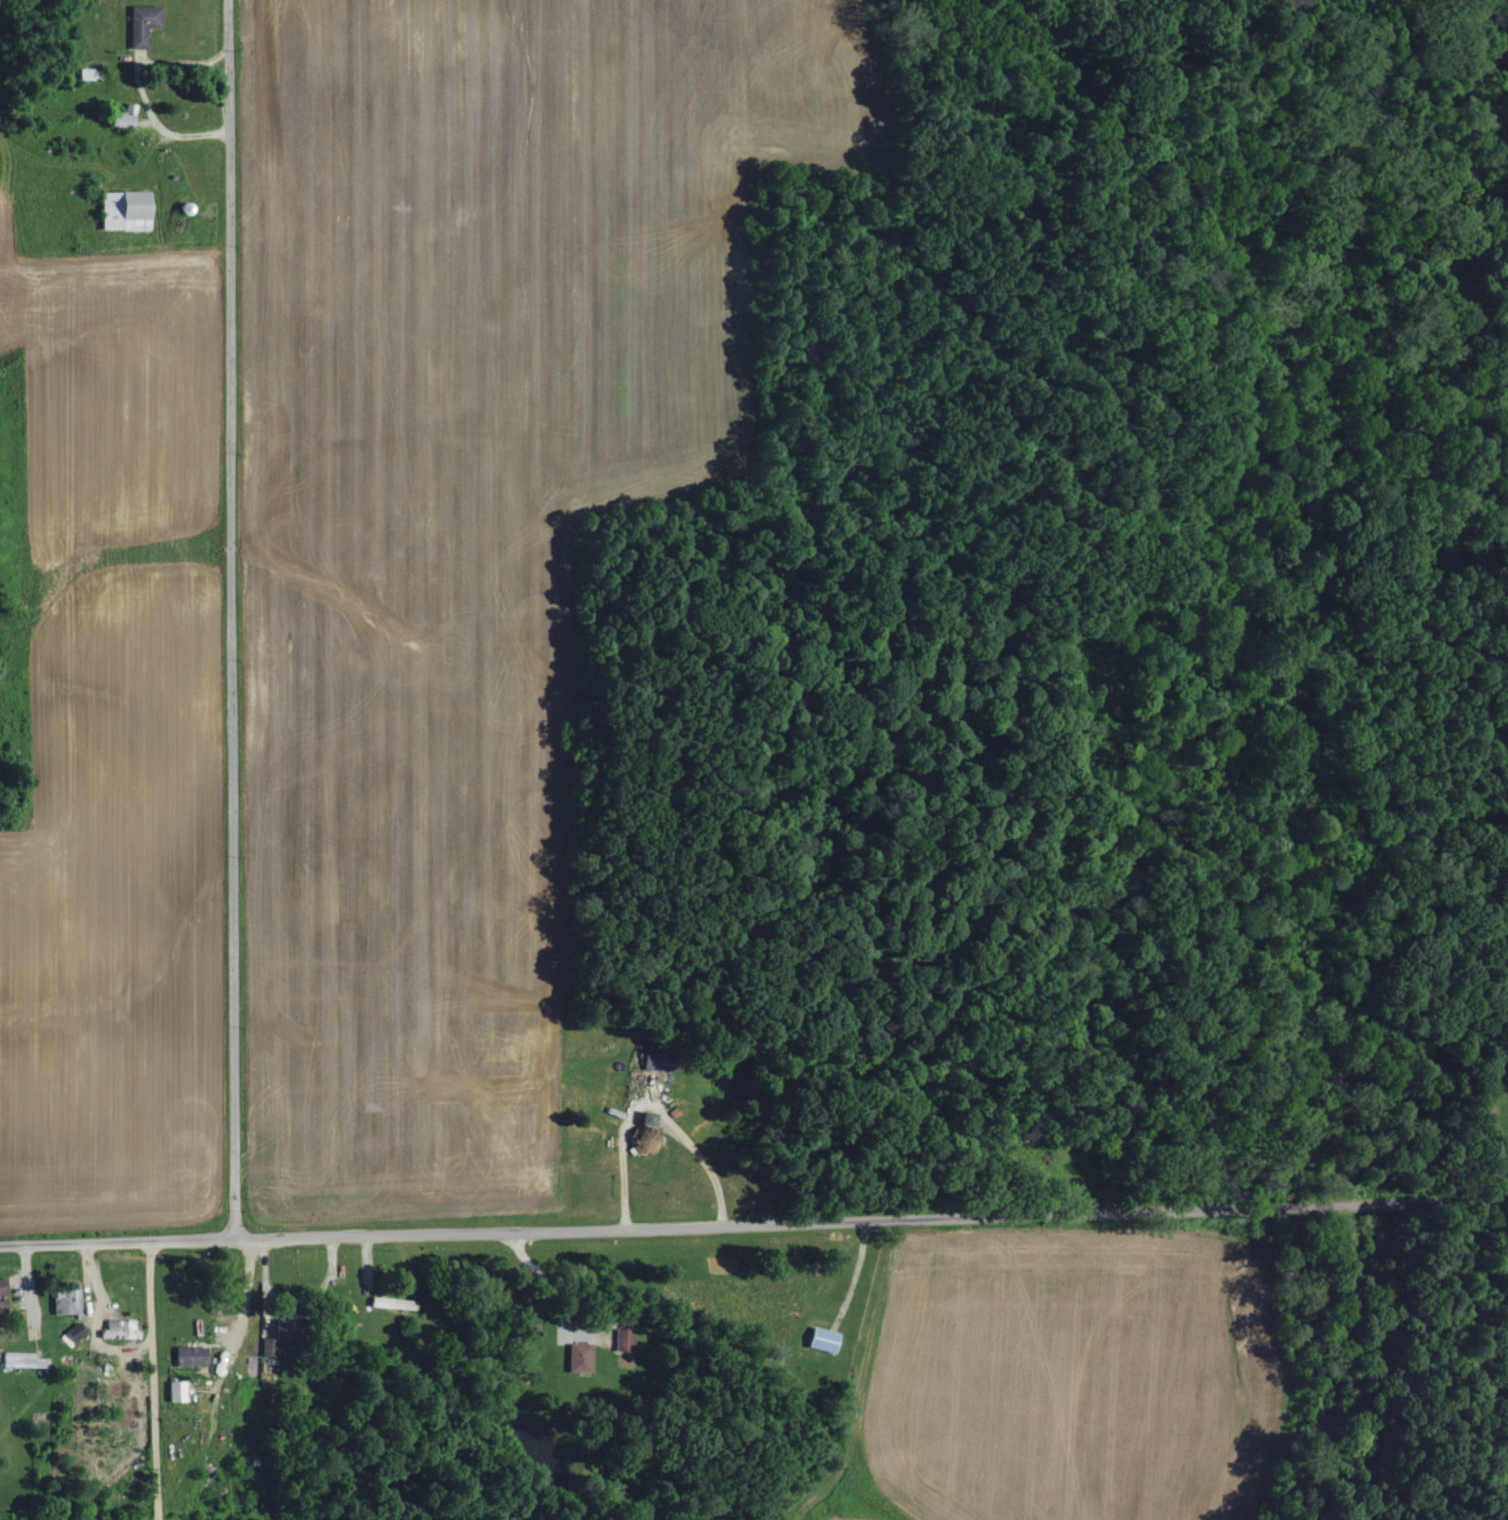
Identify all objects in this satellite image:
building: (139, 25)
building: (84, 75)
building: (119, 119)
building: (130, 213)
road: (230, 620)
building: (651, 1059)
building: (642, 1134)
building: (1502, 1149)
road: (1405, 1201)
road: (1288, 1205)
road: (636, 1226)
road: (543, 1298)
building: (390, 1304)
building: (66, 1305)
building: (121, 1329)
building: (620, 1340)
building: (820, 1340)
building: (271, 1348)
building: (193, 1356)
building: (576, 1356)
building: (23, 1360)
road: (152, 1381)
building: (180, 1392)
building: (247, 1460)

